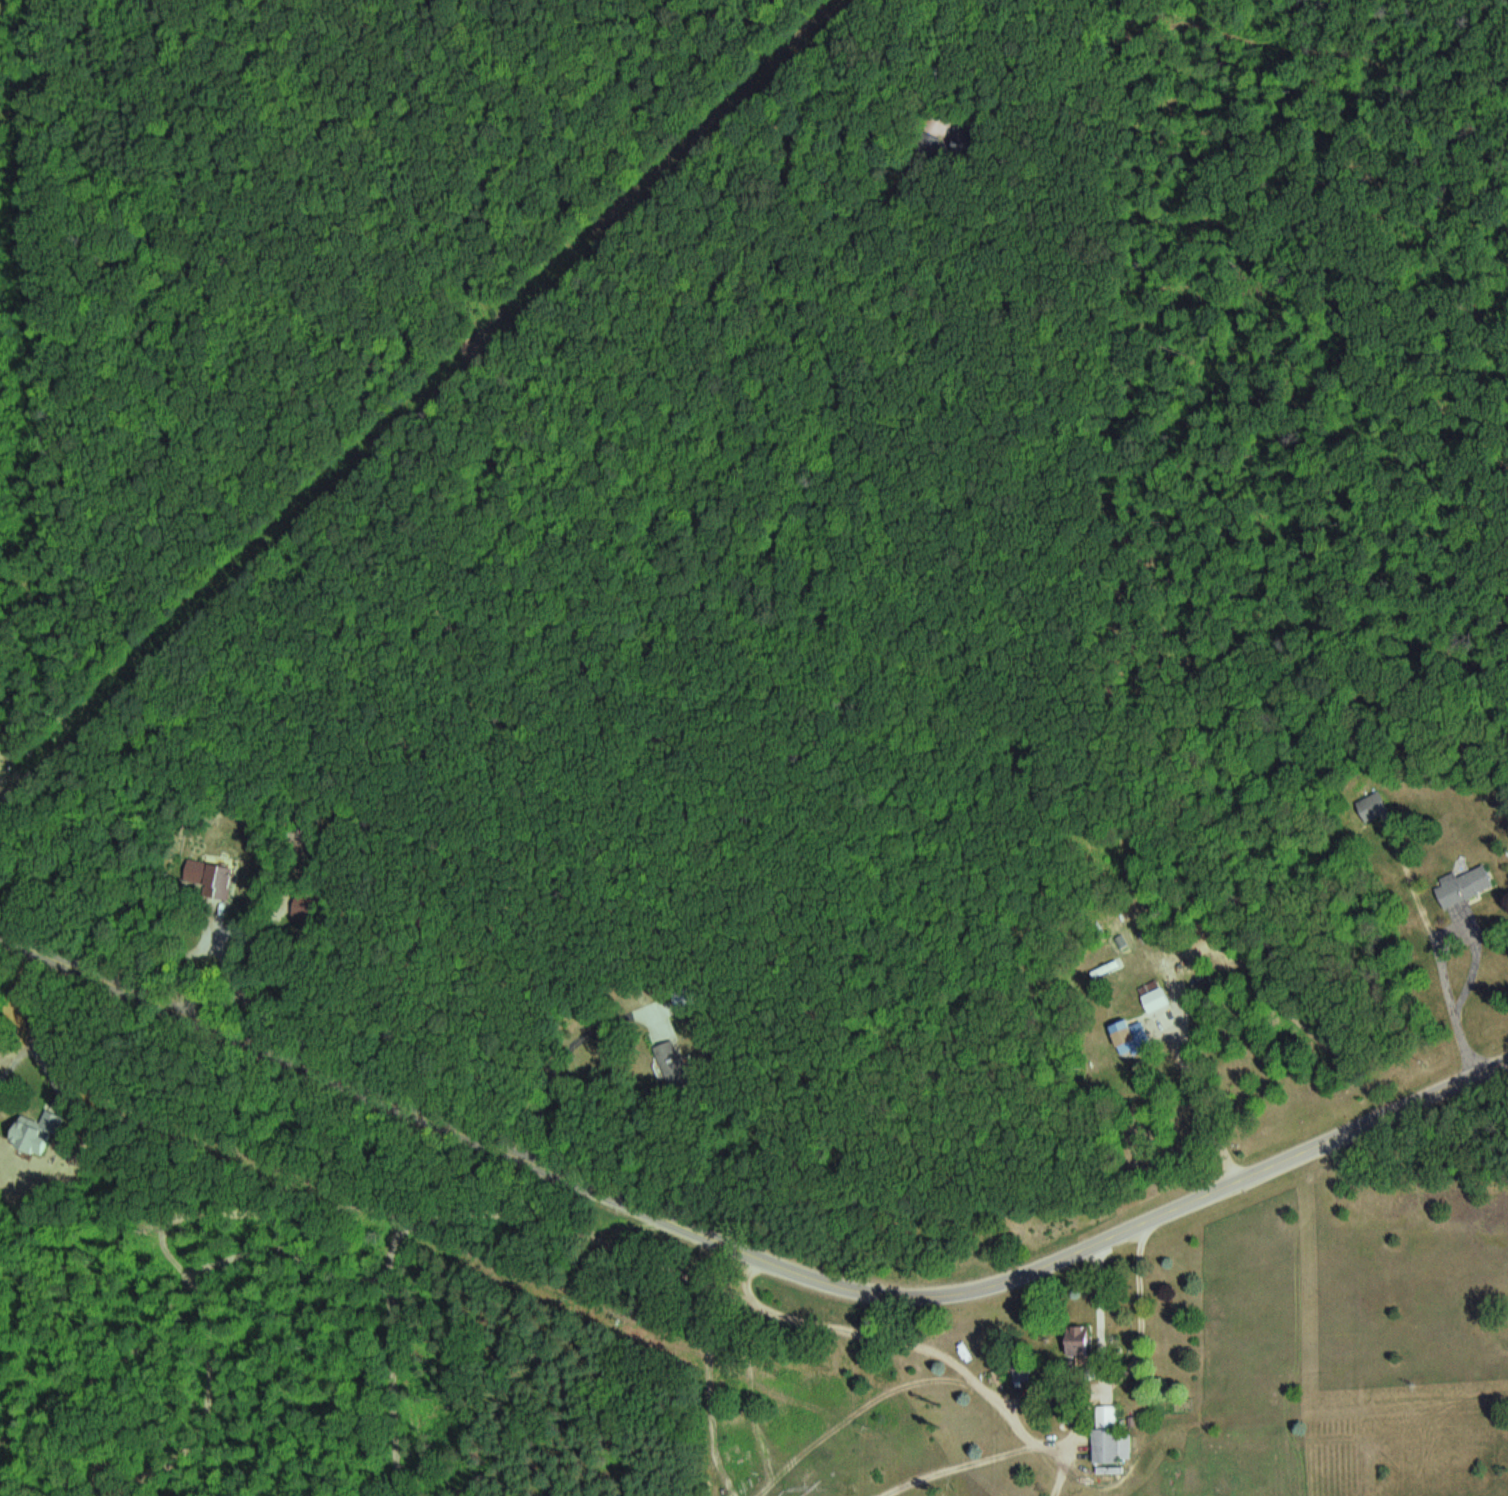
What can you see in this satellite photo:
building: (1375, 806)
building: (1468, 886)
building: (1205, 986)
building: (1156, 996)
building: (1131, 1037)
building: (34, 1135)
road: (747, 1252)
building: (1081, 1338)
road: (1125, 1367)
building: (1025, 1374)
building: (1112, 1437)

